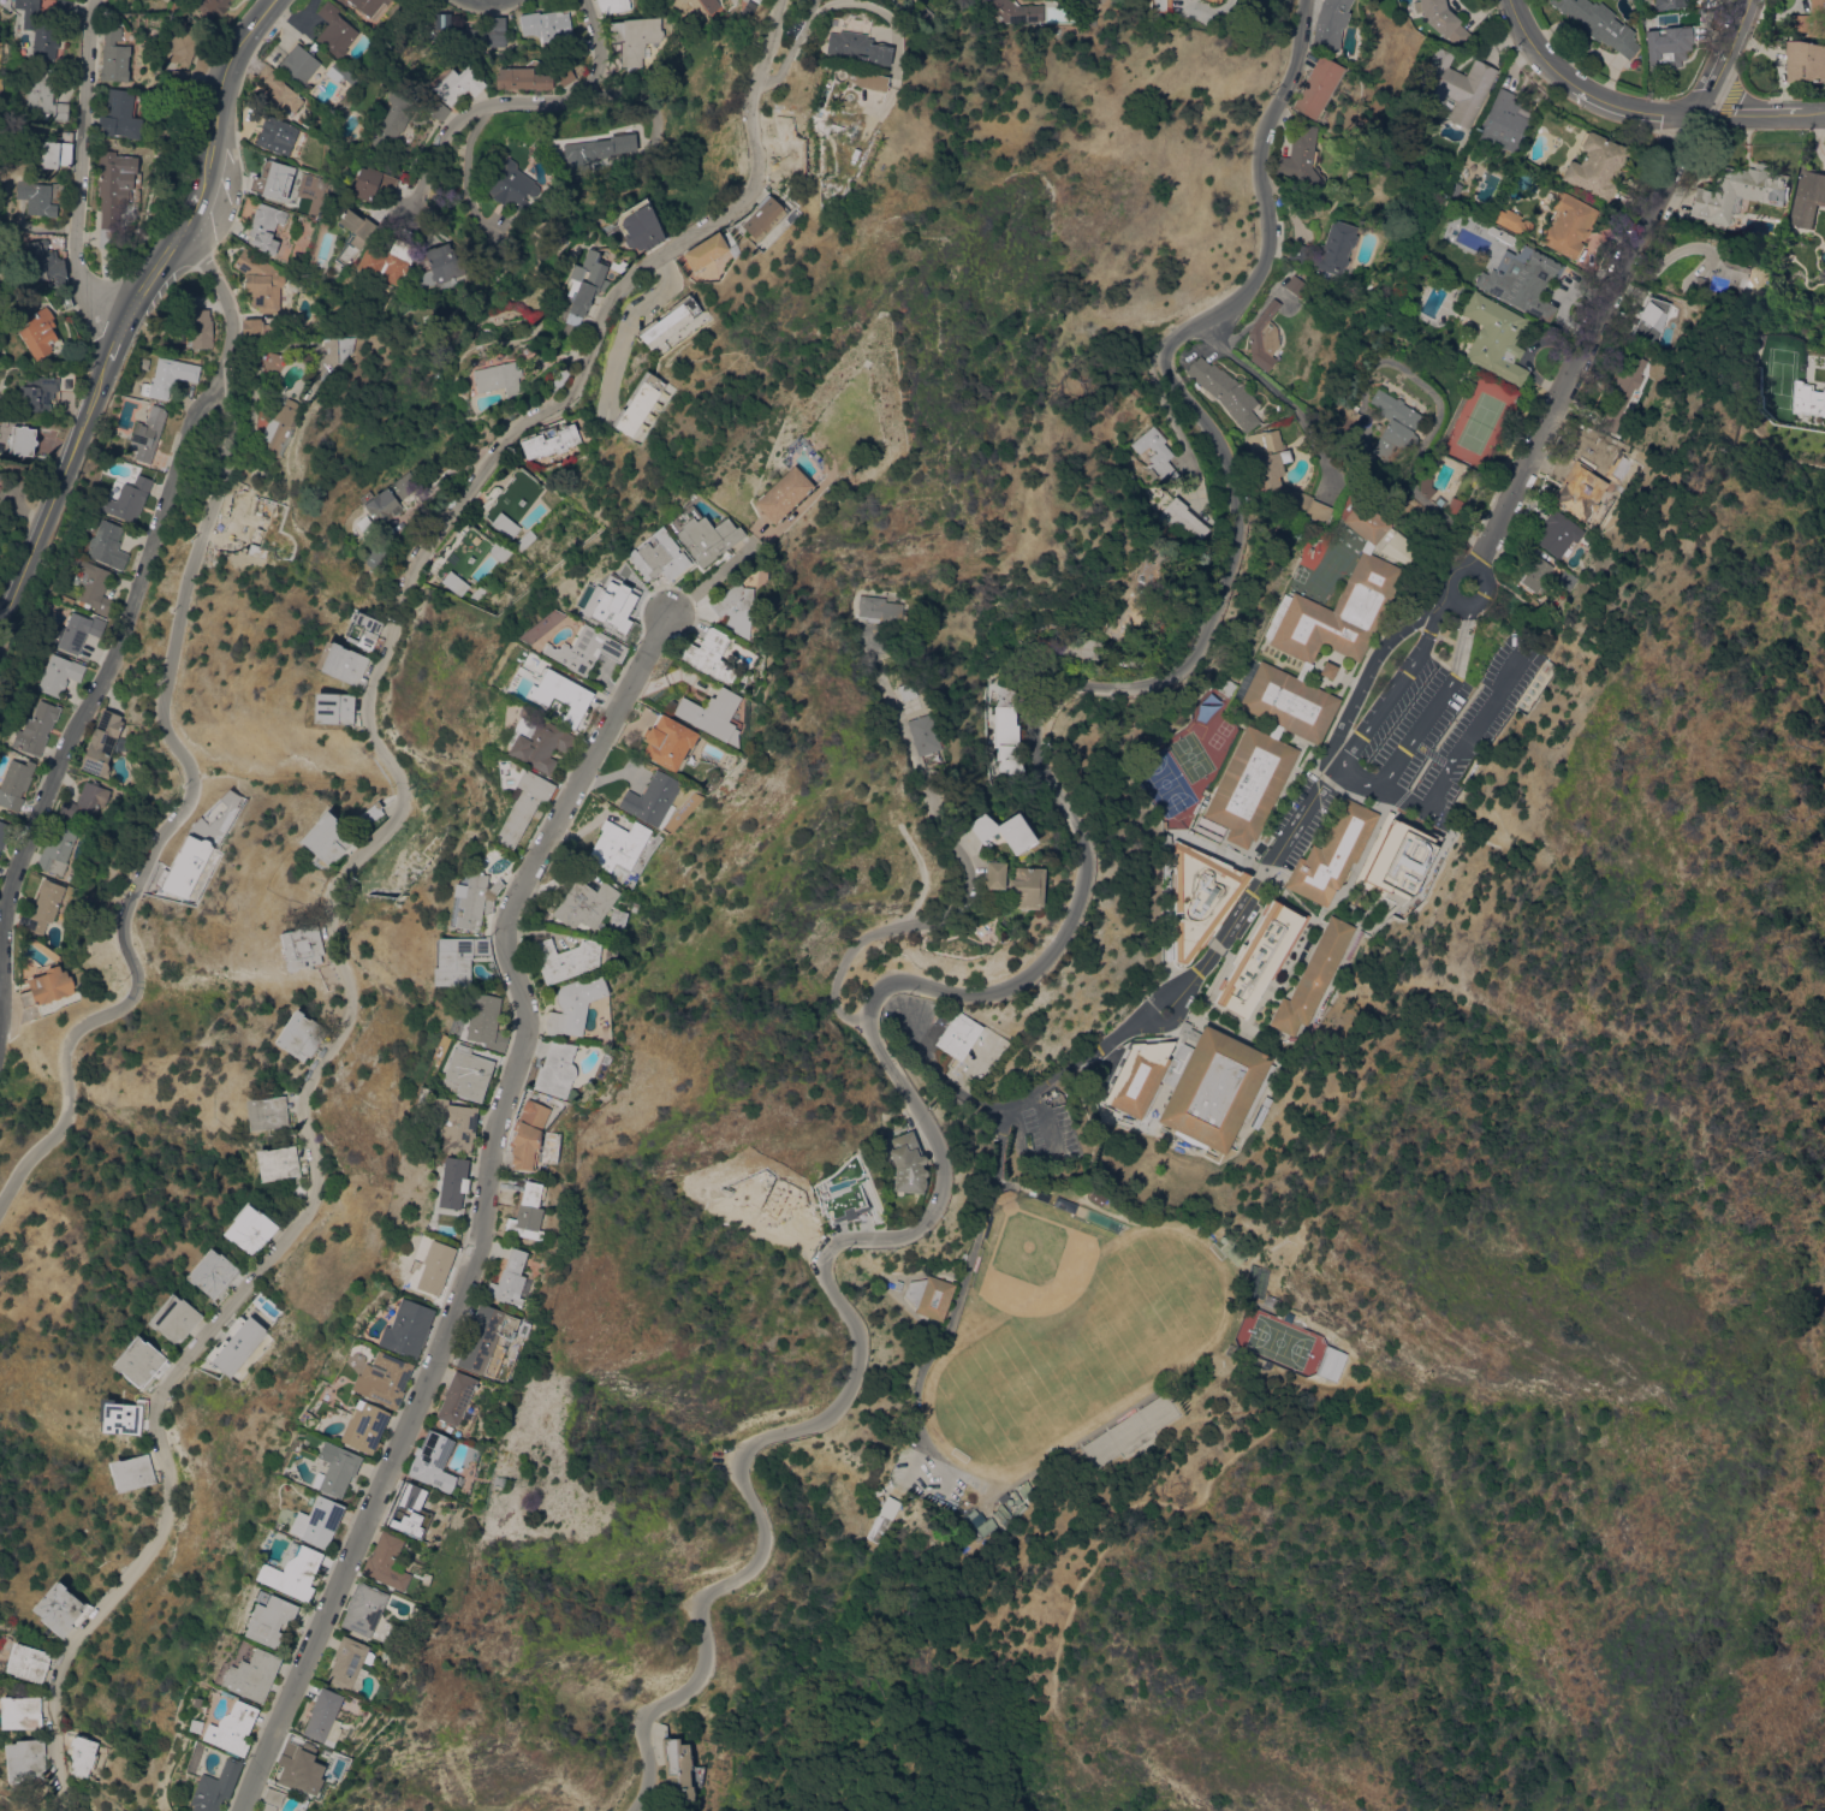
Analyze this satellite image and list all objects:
building: (1212, 0)
road: (491, 2)
road: (824, 4)
building: (1669, 4)
building: (612, 5)
building: (709, 5)
building: (64, 6)
building: (173, 6)
building: (210, 6)
building: (367, 6)
building: (1158, 6)
building: (748, 10)
building: (1016, 11)
building: (922, 12)
building: (1441, 19)
building: (1813, 19)
building: (1328, 23)
building: (547, 24)
building: (1599, 24)
building: (38, 30)
building: (334, 30)
building: (476, 32)
building: (635, 37)
building: (1668, 43)
building: (184, 46)
building: (855, 47)
building: (114, 57)
building: (1806, 61)
building: (299, 64)
building: (335, 72)
building: (565, 75)
building: (179, 77)
building: (522, 78)
building: (863, 79)
building: (457, 84)
building: (1456, 84)
building: (1316, 88)
building: (279, 90)
building: (42, 95)
road: (512, 100)
building: (438, 109)
road: (1642, 111)
building: (120, 114)
building: (393, 117)
building: (1503, 123)
building: (1411, 130)
building: (275, 135)
building: (830, 148)
building: (594, 153)
building: (54, 154)
building: (167, 154)
building: (1301, 160)
building: (1595, 166)
building: (777, 167)
road: (221, 168)
road: (78, 174)
building: (271, 178)
building: (367, 184)
building: (509, 184)
building: (1738, 191)
building: (114, 192)
building: (40, 196)
building: (1808, 197)
building: (768, 216)
building: (1514, 221)
building: (640, 225)
building: (1567, 225)
building: (266, 227)
building: (352, 234)
building: (1334, 248)
building: (705, 251)
building: (1296, 253)
building: (124, 254)
building: (500, 255)
road: (1668, 255)
building: (296, 261)
building: (44, 262)
building: (388, 262)
building: (445, 262)
building: (1518, 273)
building: (261, 280)
building: (585, 281)
road: (1613, 283)
building: (1723, 283)
building: (1295, 285)
building: (1648, 317)
building: (428, 319)
building: (197, 321)
building: (668, 321)
road: (626, 325)
building: (252, 327)
building: (569, 331)
building: (38, 332)
building: (1264, 338)
building: (1496, 338)
road: (119, 343)
building: (337, 349)
building: (271, 361)
building: (143, 362)
road: (1243, 367)
building: (168, 376)
building: (499, 378)
building: (558, 378)
building: (43, 390)
building: (1623, 390)
building: (1225, 391)
building: (637, 403)
building: (1808, 403)
building: (1351, 416)
building: (1393, 426)
building: (280, 427)
building: (148, 433)
building: (549, 438)
building: (23, 440)
road: (1314, 445)
building: (1157, 453)
building: (1593, 453)
building: (0, 475)
building: (1268, 475)
building: (1426, 485)
building: (779, 494)
building: (1579, 495)
building: (390, 498)
road: (55, 499)
building: (127, 499)
building: (510, 501)
road: (797, 501)
building: (1455, 505)
building: (1181, 518)
building: (364, 524)
building: (248, 530)
building: (1558, 533)
building: (385, 538)
building: (703, 538)
building: (107, 544)
building: (1397, 548)
building: (375, 554)
building: (655, 557)
building: (464, 558)
road: (1460, 564)
building: (1535, 572)
road: (711, 574)
building: (1568, 578)
building: (94, 587)
building: (1136, 596)
building: (1340, 599)
building: (608, 604)
building: (731, 608)
building: (879, 610)
building: (1072, 622)
building: (1036, 625)
road: (1, 628)
building: (363, 630)
building: (76, 631)
building: (1444, 631)
building: (582, 649)
building: (707, 654)
building: (340, 663)
building: (1327, 670)
building: (1303, 671)
building: (59, 676)
building: (1224, 685)
building: (906, 690)
building: (557, 695)
building: (1289, 702)
road: (83, 705)
building: (332, 707)
building: (709, 714)
building: (1005, 716)
building: (36, 729)
building: (1276, 731)
building: (922, 735)
building: (534, 742)
building: (664, 742)
building: (102, 743)
road: (184, 755)
road: (1357, 780)
building: (16, 783)
building: (1250, 784)
building: (518, 797)
building: (649, 800)
building: (84, 802)
building: (1207, 827)
building: (1383, 829)
building: (1003, 831)
building: (4, 832)
building: (327, 838)
building: (1408, 841)
building: (614, 845)
building: (57, 849)
building: (1337, 855)
building: (1188, 867)
road: (350, 868)
road: (970, 873)
building: (993, 874)
building: (1026, 886)
building: (470, 901)
building: (581, 904)
building: (42, 908)
building: (1321, 916)
building: (301, 946)
building: (1259, 957)
building: (454, 958)
building: (561, 958)
building: (1314, 976)
road: (1016, 981)
building: (44, 988)
building: (571, 1004)
building: (1193, 1010)
road: (1151, 1017)
building: (478, 1021)
building: (958, 1034)
building: (301, 1035)
building: (553, 1069)
building: (464, 1073)
building: (1194, 1085)
building: (267, 1112)
building: (1260, 1116)
building: (451, 1126)
building: (530, 1139)
building: (1214, 1156)
building: (277, 1162)
building: (908, 1163)
building: (450, 1182)
building: (843, 1200)
building: (1071, 1205)
road: (486, 1211)
building: (525, 1212)
building: (545, 1221)
building: (249, 1228)
building: (1233, 1251)
building: (433, 1267)
building: (213, 1272)
building: (507, 1279)
building: (898, 1284)
building: (929, 1295)
building: (1272, 1301)
building: (1289, 1316)
building: (174, 1318)
building: (405, 1328)
park: (1069, 1330)
building: (485, 1340)
park: (1278, 1341)
building: (234, 1344)
building: (139, 1361)
building: (1331, 1362)
building: (381, 1378)
building: (453, 1397)
building: (121, 1418)
building: (310, 1420)
building: (362, 1426)
building: (1126, 1431)
building: (430, 1462)
building: (334, 1468)
building: (131, 1472)
building: (1026, 1488)
building: (1009, 1501)
building: (941, 1502)
building: (967, 1503)
building: (890, 1506)
building: (1018, 1509)
building: (408, 1512)
building: (969, 1514)
road: (1114, 1514)
building: (975, 1519)
building: (316, 1521)
building: (987, 1526)
building: (385, 1562)
building: (291, 1573)
building: (58, 1608)
building: (362, 1609)
building: (268, 1620)
building: (28, 1662)
building: (347, 1663)
building: (251, 1675)
building: (20, 1711)
building: (322, 1717)
building: (194, 1726)
building: (231, 1728)
building: (83, 1754)
building: (25, 1759)
building: (297, 1765)
building: (676, 1769)
building: (214, 1787)
building: (269, 1800)

